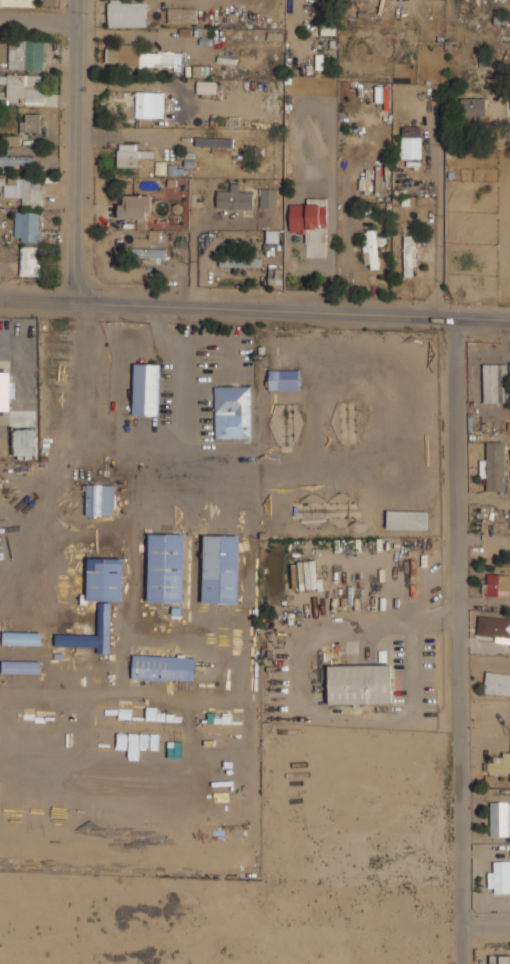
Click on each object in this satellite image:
building: (361, 0)
building: (0, 2)
building: (19, 3)
building: (126, 13)
building: (181, 15)
road: (126, 18)
building: (26, 54)
building: (140, 56)
building: (323, 61)
building: (205, 86)
building: (26, 87)
building: (148, 104)
building: (473, 106)
building: (30, 123)
building: (13, 139)
building: (213, 142)
building: (410, 147)
road: (73, 151)
building: (130, 154)
building: (17, 160)
building: (28, 191)
building: (234, 197)
building: (267, 198)
building: (134, 206)
road: (347, 207)
building: (309, 219)
road: (330, 224)
building: (27, 226)
building: (272, 236)
road: (439, 236)
building: (371, 246)
building: (408, 251)
building: (145, 252)
building: (240, 260)
building: (29, 261)
road: (426, 263)
road: (37, 301)
road: (292, 310)
building: (284, 379)
building: (494, 383)
building: (146, 389)
building: (5, 390)
building: (233, 412)
building: (25, 444)
building: (495, 465)
building: (99, 499)
building: (407, 519)
building: (167, 568)
building: (221, 569)
building: (301, 575)
building: (106, 579)
building: (495, 584)
building: (105, 617)
building: (494, 627)
building: (22, 638)
road: (461, 640)
building: (21, 666)
building: (164, 667)
building: (356, 683)
building: (497, 683)
building: (500, 763)
building: (499, 817)
building: (502, 876)
road: (486, 929)
building: (500, 959)

